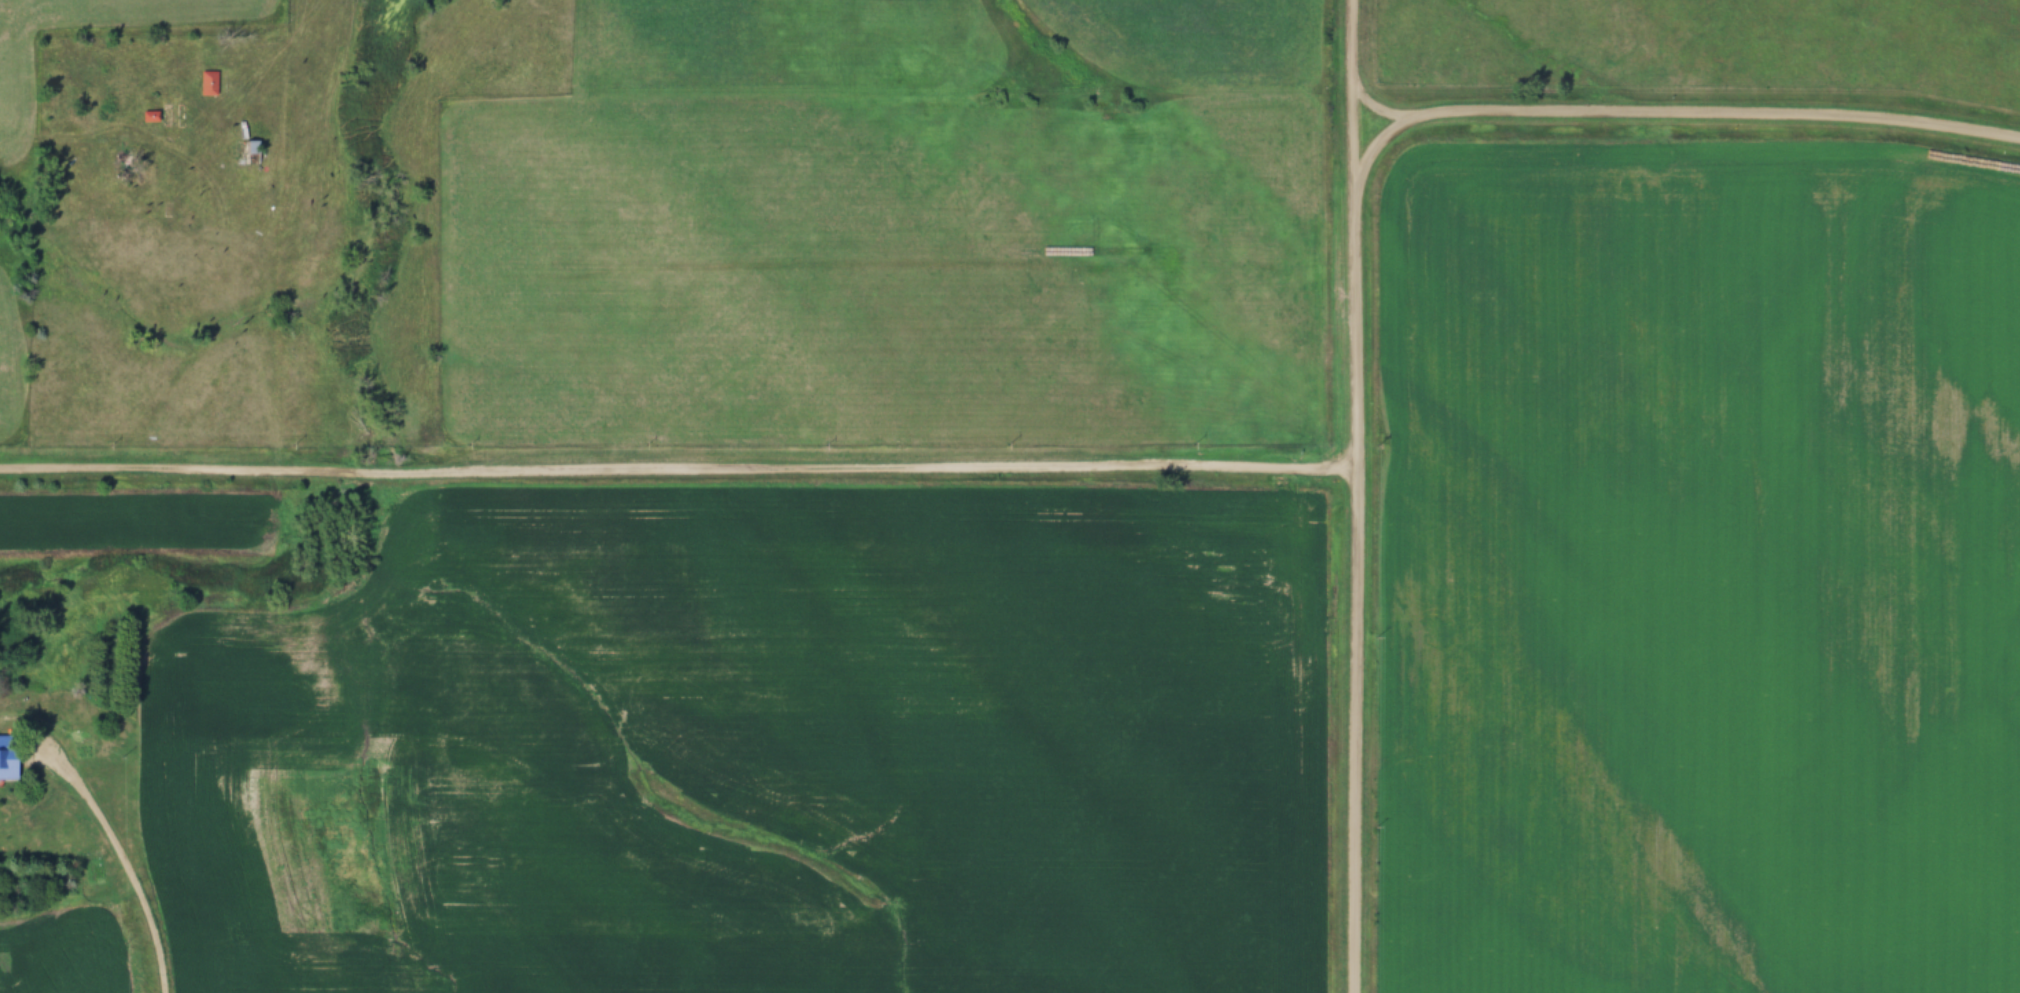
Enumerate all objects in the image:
building: (207, 82)
road: (1349, 93)
road: (1381, 107)
building: (168, 115)
building: (246, 151)
road: (1354, 237)
road: (679, 464)
building: (9, 757)
road: (159, 966)

